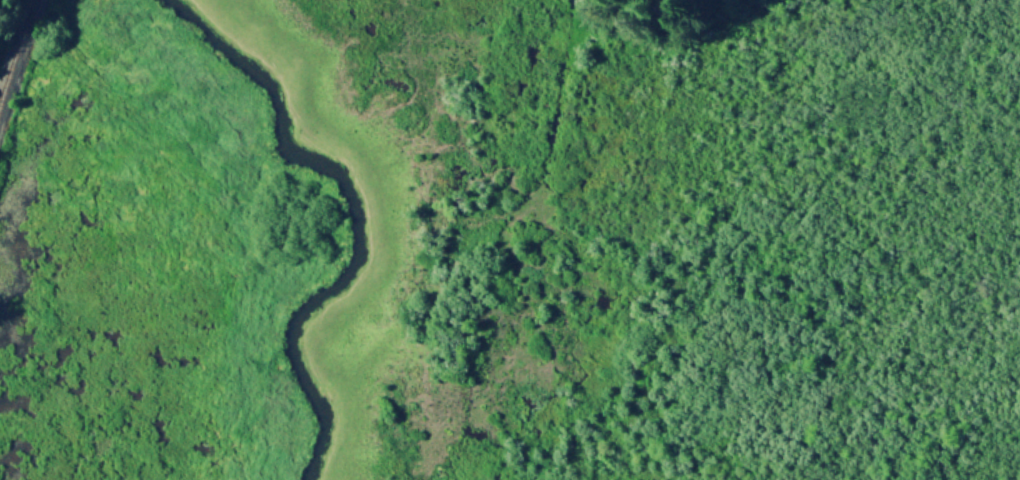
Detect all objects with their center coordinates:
railway: (10, 35)

